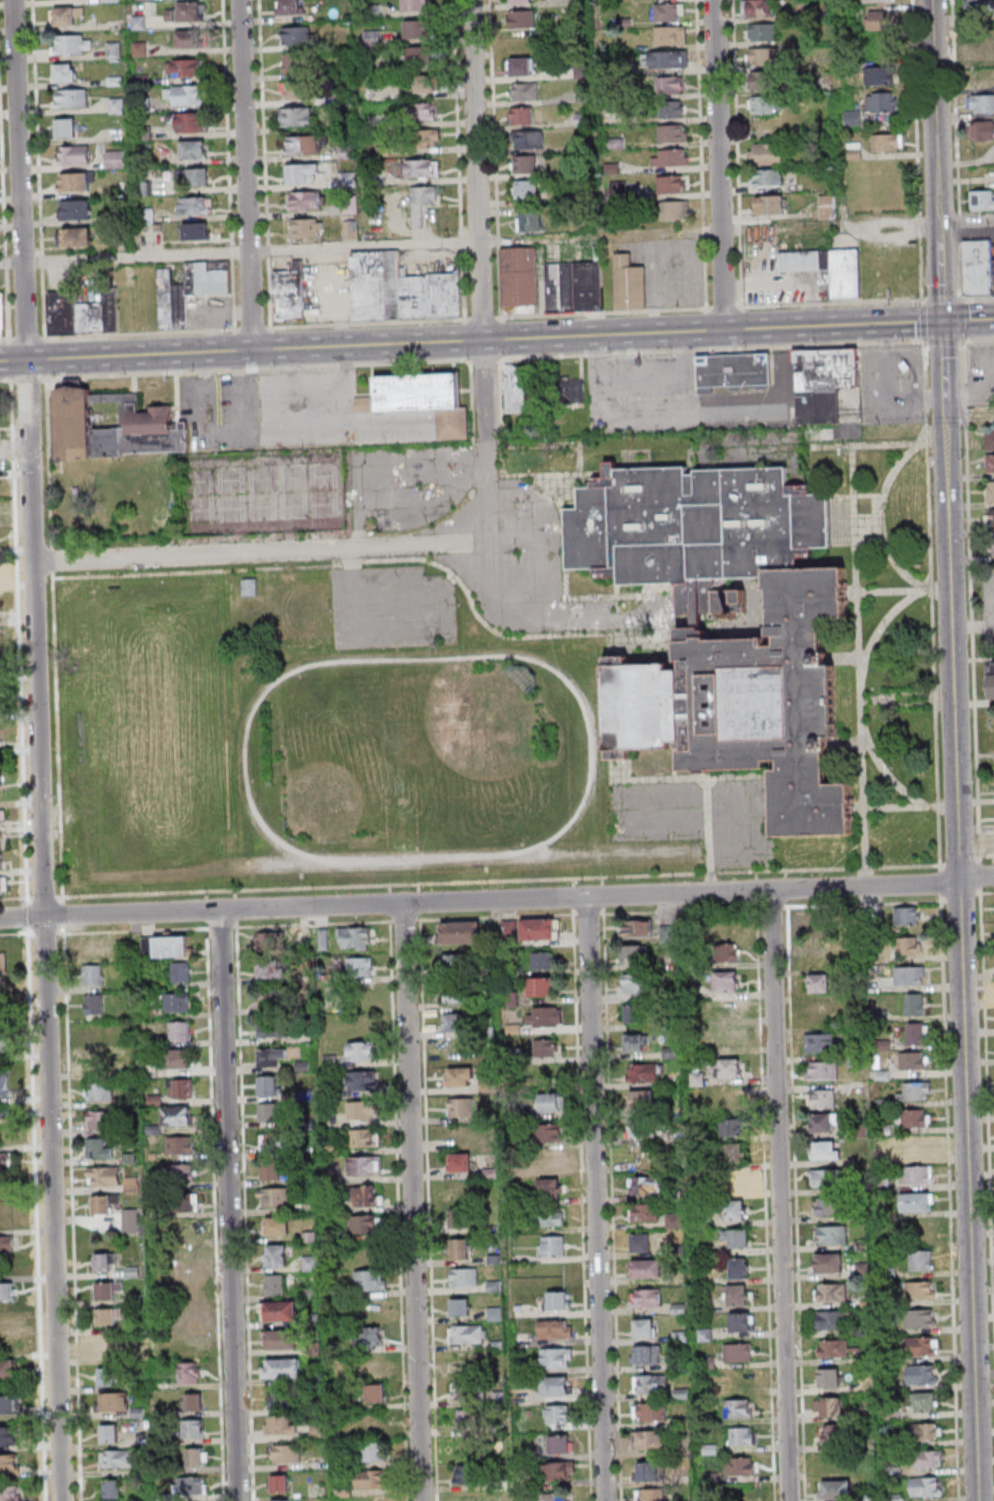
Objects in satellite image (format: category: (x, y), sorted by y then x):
building: (110, 0)
building: (520, 0)
building: (879, 0)
building: (575, 2)
building: (413, 5)
building: (978, 6)
building: (290, 7)
building: (758, 8)
building: (371, 9)
building: (186, 11)
building: (665, 12)
building: (65, 15)
building: (522, 18)
building: (883, 19)
building: (138, 22)
building: (623, 22)
building: (114, 24)
building: (417, 27)
building: (760, 32)
building: (669, 34)
building: (297, 35)
building: (371, 36)
building: (187, 39)
building: (70, 43)
building: (113, 49)
building: (419, 56)
building: (762, 57)
building: (981, 57)
building: (665, 58)
building: (291, 63)
building: (521, 66)
building: (185, 67)
building: (581, 69)
building: (64, 72)
building: (879, 75)
building: (764, 79)
building: (115, 80)
building: (423, 84)
building: (668, 84)
building: (294, 90)
building: (523, 91)
building: (186, 94)
building: (581, 94)
building: (71, 97)
building: (880, 102)
building: (980, 103)
building: (116, 105)
building: (765, 105)
building: (669, 108)
building: (423, 111)
building: (296, 115)
building: (521, 115)
building: (852, 116)
building: (581, 118)
building: (189, 123)
building: (65, 127)
building: (982, 129)
building: (671, 133)
building: (427, 138)
building: (528, 138)
building: (615, 142)
building: (887, 142)
building: (306, 144)
building: (194, 149)
building: (346, 152)
building: (764, 153)
building: (74, 154)
road: (739, 154)
building: (669, 157)
building: (114, 159)
road: (937, 160)
building: (524, 163)
road: (721, 165)
building: (420, 167)
building: (611, 167)
road: (480, 170)
building: (302, 172)
road: (248, 175)
building: (192, 176)
building: (766, 177)
building: (75, 181)
building: (669, 184)
building: (617, 186)
building: (145, 188)
building: (525, 188)
building: (306, 200)
building: (981, 200)
building: (421, 201)
building: (768, 204)
building: (195, 205)
building: (826, 206)
building: (348, 208)
building: (75, 209)
building: (673, 210)
building: (146, 215)
road: (967, 219)
building: (528, 223)
building: (306, 228)
building: (350, 229)
building: (197, 231)
building: (75, 236)
road: (361, 244)
building: (979, 267)
building: (827, 268)
building: (519, 279)
building: (627, 283)
building: (574, 286)
building: (400, 288)
building: (189, 289)
building: (291, 290)
building: (83, 312)
building: (2, 314)
traffic signals: (943, 322)
road: (137, 334)
road: (496, 340)
road: (712, 349)
road: (483, 357)
road: (255, 368)
building: (732, 370)
building: (822, 381)
building: (515, 388)
building: (571, 389)
building: (426, 400)
building: (363, 403)
building: (115, 426)
road: (488, 436)
building: (989, 439)
road: (861, 442)
road: (48, 460)
building: (989, 462)
building: (990, 491)
road: (879, 511)
building: (989, 518)
building: (708, 522)
building: (589, 529)
building: (991, 545)
road: (266, 553)
road: (381, 558)
road: (49, 560)
building: (248, 587)
road: (892, 588)
building: (706, 594)
building: (738, 595)
building: (695, 600)
building: (725, 602)
road: (930, 602)
building: (731, 614)
road: (880, 625)
road: (973, 627)
building: (690, 633)
road: (858, 654)
building: (991, 679)
building: (774, 702)
building: (642, 706)
road: (57, 736)
road: (41, 750)
track: (242, 766)
road: (886, 771)
road: (900, 805)
building: (2, 818)
building: (2, 840)
building: (1, 861)
road: (501, 880)
building: (3, 885)
road: (497, 900)
road: (960, 911)
building: (907, 916)
building: (508, 927)
building: (635, 928)
building: (540, 929)
building: (460, 932)
building: (354, 938)
building: (272, 941)
building: (908, 945)
building: (91, 947)
building: (171, 947)
building: (727, 952)
building: (634, 953)
building: (542, 960)
building: (2, 963)
building: (460, 964)
building: (360, 966)
building: (272, 969)
building: (180, 971)
building: (92, 974)
building: (908, 975)
building: (725, 981)
building: (818, 982)
building: (635, 983)
building: (540, 986)
building: (458, 995)
building: (269, 1000)
building: (177, 1002)
building: (914, 1003)
building: (94, 1004)
building: (726, 1008)
building: (819, 1011)
building: (632, 1013)
building: (545, 1016)
building: (453, 1022)
building: (271, 1028)
building: (179, 1030)
building: (915, 1033)
building: (726, 1037)
building: (3, 1040)
building: (819, 1042)
building: (634, 1043)
building: (546, 1047)
building: (362, 1051)
building: (270, 1057)
building: (177, 1058)
building: (911, 1060)
building: (99, 1061)
building: (729, 1068)
building: (821, 1070)
building: (643, 1072)
building: (461, 1077)
building: (363, 1080)
building: (485, 1084)
building: (4, 1085)
building: (268, 1086)
building: (180, 1088)
building: (914, 1091)
building: (99, 1092)
building: (640, 1098)
building: (821, 1098)
building: (552, 1102)
building: (461, 1106)
building: (361, 1110)
building: (269, 1111)
building: (4, 1115)
building: (176, 1116)
building: (913, 1118)
building: (98, 1121)
building: (823, 1122)
building: (733, 1126)
building: (638, 1128)
building: (549, 1132)
building: (363, 1137)
building: (269, 1142)
building: (180, 1145)
building: (915, 1147)
building: (99, 1150)
building: (826, 1150)
building: (733, 1152)
building: (554, 1158)
building: (4, 1162)
building: (460, 1162)
building: (365, 1165)
building: (271, 1171)
building: (181, 1173)
building: (917, 1174)
building: (104, 1177)
building: (824, 1177)
building: (733, 1182)
building: (645, 1184)
building: (131, 1185)
building: (552, 1188)
road: (779, 1194)
building: (367, 1195)
building: (274, 1197)
road: (596, 1199)
building: (915, 1201)
building: (182, 1202)
road: (413, 1202)
building: (101, 1205)
road: (229, 1205)
building: (826, 1205)
building: (734, 1210)
building: (644, 1212)
building: (550, 1217)
building: (461, 1218)
building: (674, 1220)
building: (132, 1221)
building: (363, 1224)
building: (276, 1225)
building: (831, 1234)
building: (737, 1237)
building: (640, 1241)
building: (7, 1244)
building: (551, 1246)
building: (459, 1248)
building: (276, 1255)
building: (920, 1260)
building: (104, 1262)
building: (828, 1262)
building: (309, 1263)
building: (645, 1268)
building: (738, 1268)
building: (464, 1277)
building: (369, 1280)
building: (274, 1284)
building: (919, 1289)
building: (107, 1290)
building: (6, 1291)
building: (829, 1291)
building: (738, 1294)
building: (645, 1297)
building: (558, 1300)
building: (460, 1306)
building: (279, 1309)
building: (108, 1317)
building: (918, 1317)
building: (833, 1319)
building: (740, 1321)
building: (643, 1327)
building: (554, 1329)
building: (6, 1330)
building: (467, 1333)
building: (369, 1337)
building: (281, 1339)
building: (921, 1345)
building: (105, 1347)
building: (831, 1348)
building: (736, 1352)
building: (645, 1354)
building: (556, 1357)
building: (466, 1364)
building: (284, 1368)
building: (8, 1371)
building: (189, 1373)
building: (922, 1374)
building: (108, 1377)
building: (828, 1377)
building: (650, 1383)
building: (555, 1385)
building: (461, 1390)
building: (375, 1394)
building: (279, 1398)
building: (114, 1401)
building: (924, 1401)
building: (194, 1402)
building: (9, 1404)
building: (827, 1406)
building: (738, 1407)
building: (649, 1411)
building: (558, 1413)
building: (464, 1419)
building: (370, 1422)
building: (280, 1425)
building: (193, 1428)
building: (318, 1430)
building: (924, 1431)
building: (108, 1433)
building: (833, 1433)
building: (9, 1435)
building: (742, 1435)
building: (648, 1439)
building: (560, 1444)
building: (372, 1452)
building: (285, 1453)
building: (196, 1457)
building: (118, 1458)
building: (927, 1459)
building: (8, 1463)
building: (738, 1465)
building: (559, 1470)
building: (648, 1471)
building: (464, 1473)
building: (369, 1478)
building: (278, 1484)
building: (191, 1485)
building: (926, 1486)
building: (110, 1488)
building: (835, 1489)
building: (7, 1493)
building: (649, 1494)
building: (555, 1497)
building: (469, 1498)
building: (280, 1500)
building: (372, 1500)

